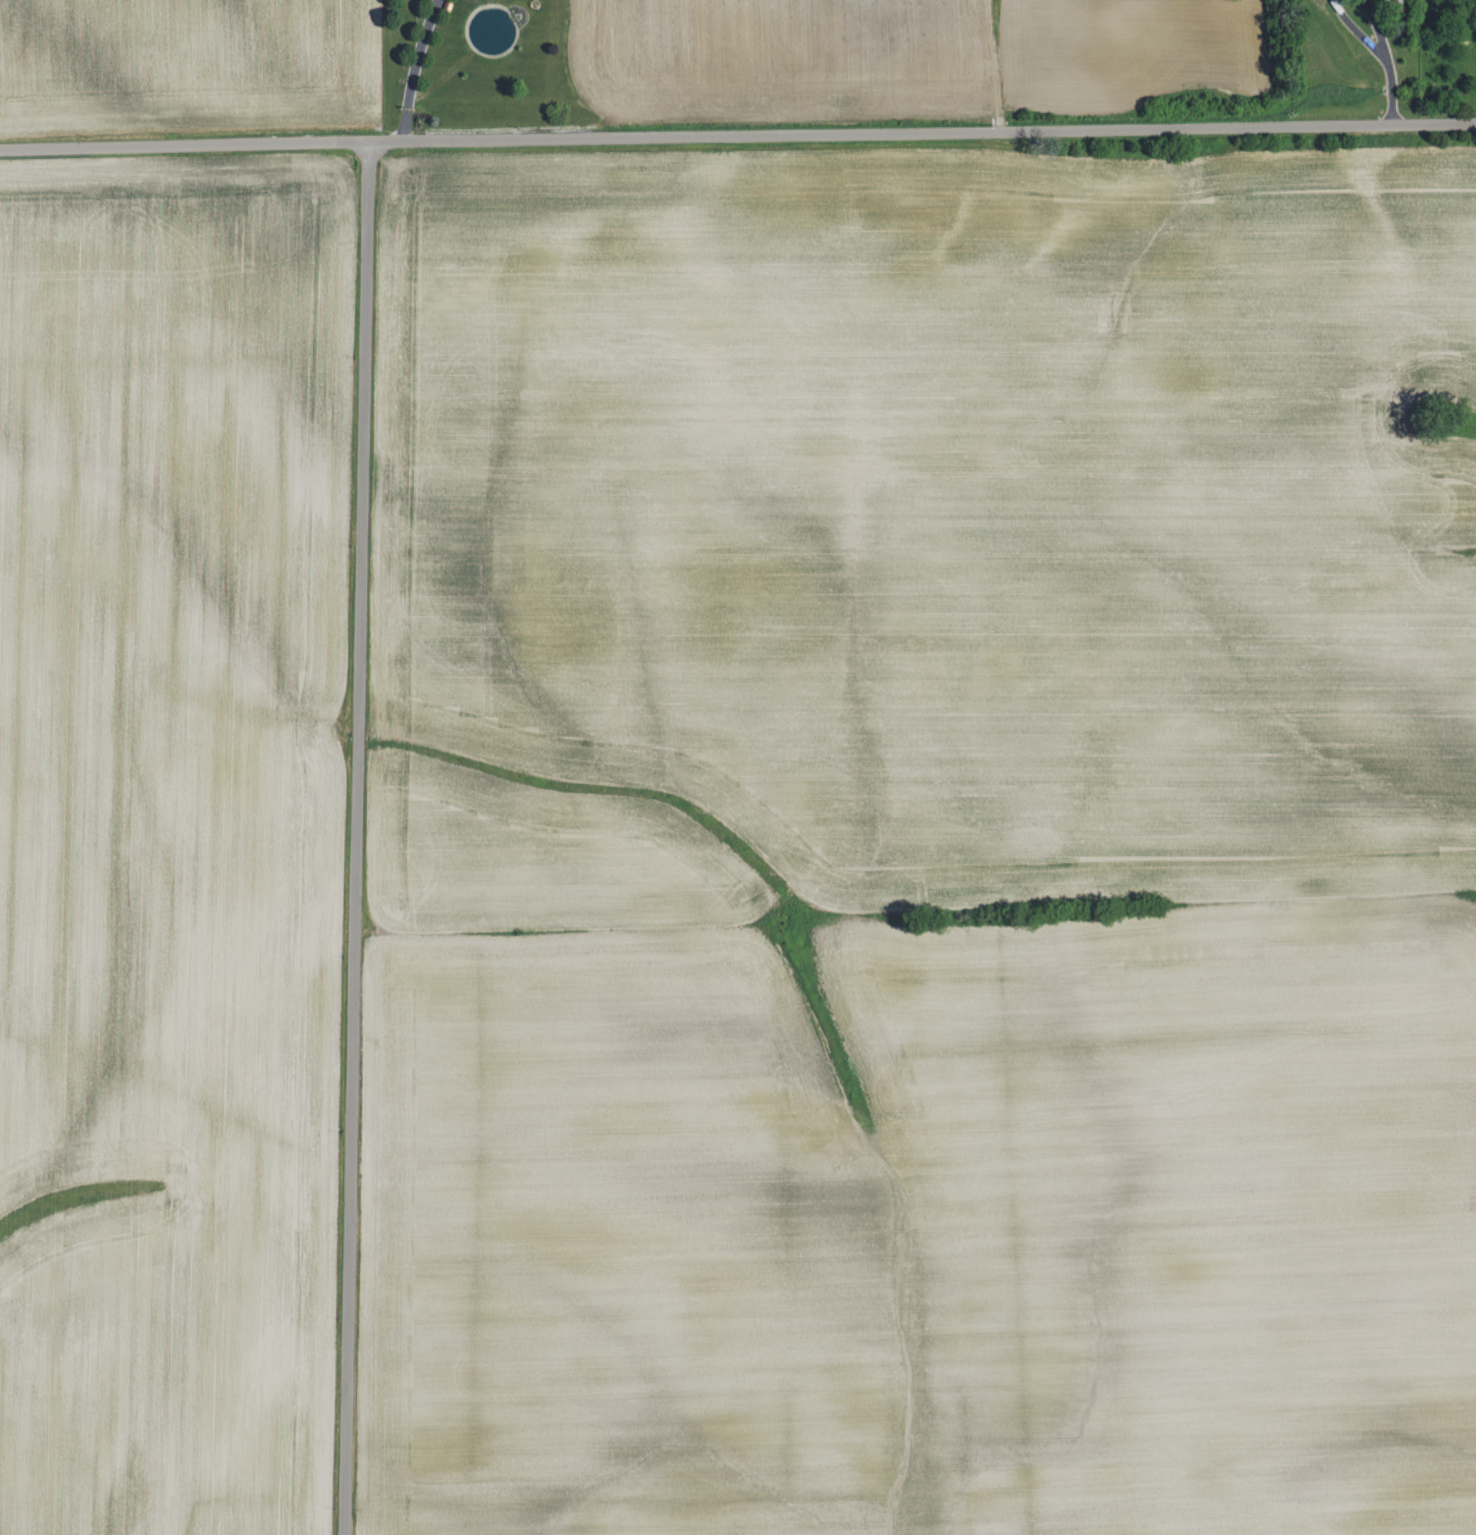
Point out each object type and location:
road: (1389, 58)
road: (418, 67)
road: (737, 132)
road: (356, 836)

